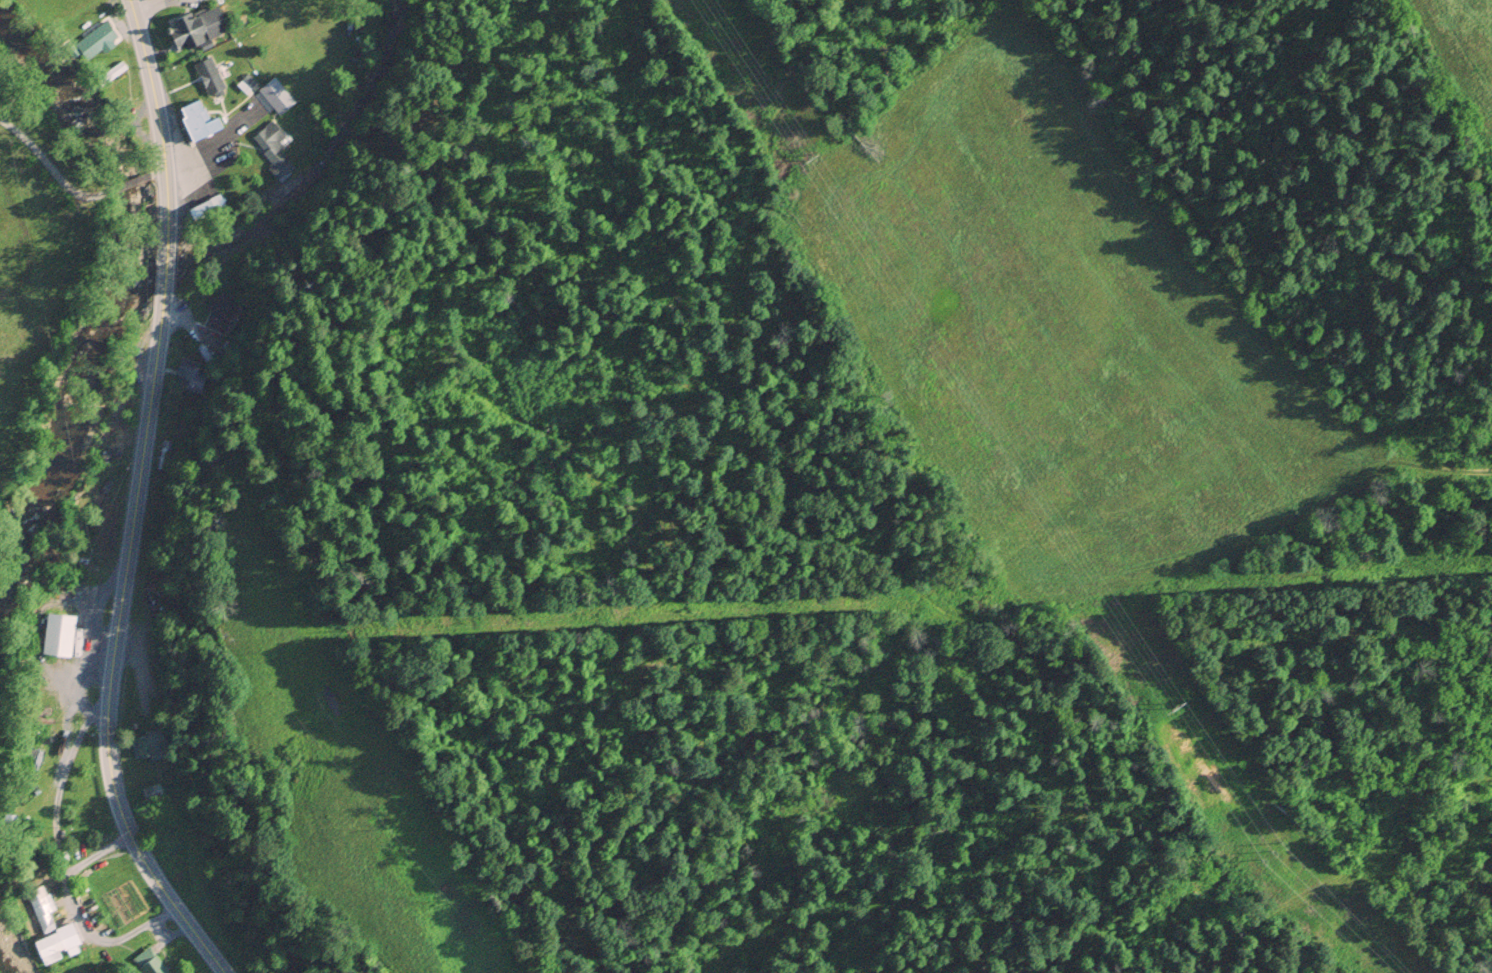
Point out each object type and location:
road: (153, 9)
building: (197, 29)
building: (93, 38)
building: (111, 75)
building: (209, 78)
building: (246, 85)
building: (276, 97)
road: (155, 109)
building: (195, 122)
road: (216, 147)
building: (273, 155)
road: (74, 190)
building: (206, 210)
road: (165, 256)
river: (123, 304)
building: (223, 315)
building: (192, 377)
building: (167, 457)
building: (56, 634)
road: (116, 646)
building: (150, 744)
building: (150, 790)
road: (62, 861)
building: (39, 908)
building: (47, 947)
building: (149, 961)
river: (6, 962)

